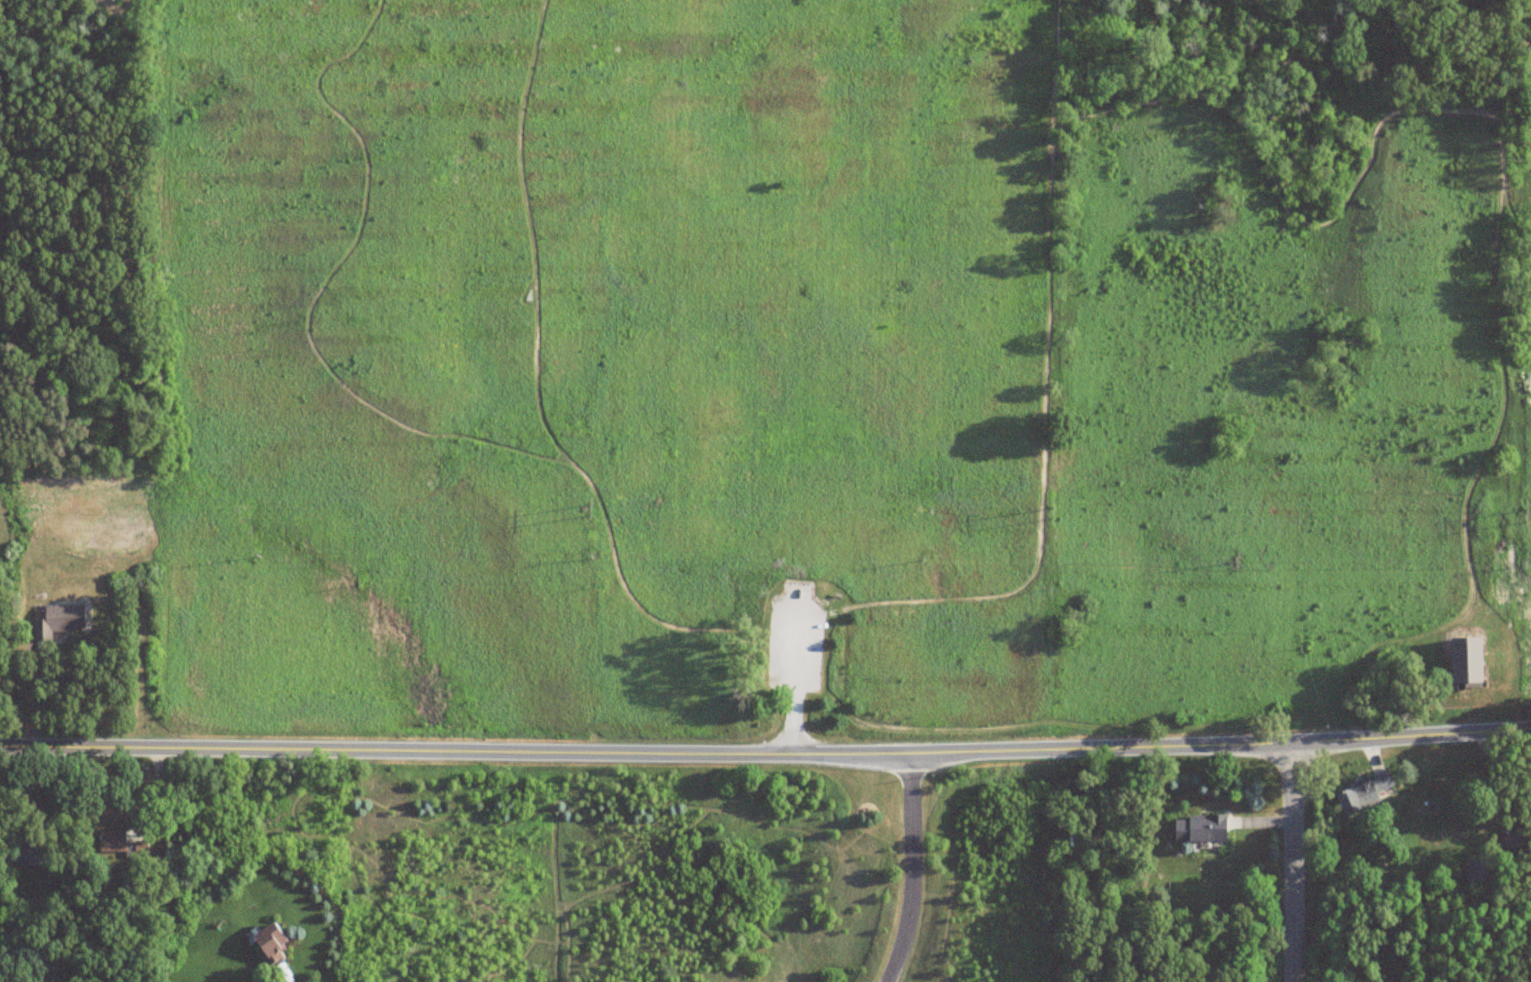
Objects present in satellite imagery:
road: (1524, 46)
road: (1517, 104)
road: (1261, 157)
park: (838, 361)
power tower: (585, 505)
power tower: (1511, 507)
power tower: (1058, 510)
building: (58, 620)
parking lot: (797, 636)
road: (1385, 645)
building: (1466, 662)
road: (795, 673)
road: (765, 753)
building: (1363, 793)
building: (1200, 829)
building: (1515, 839)
building: (114, 843)
building: (139, 849)
building: (32, 854)
road: (1294, 862)
road: (914, 870)
building: (270, 943)

